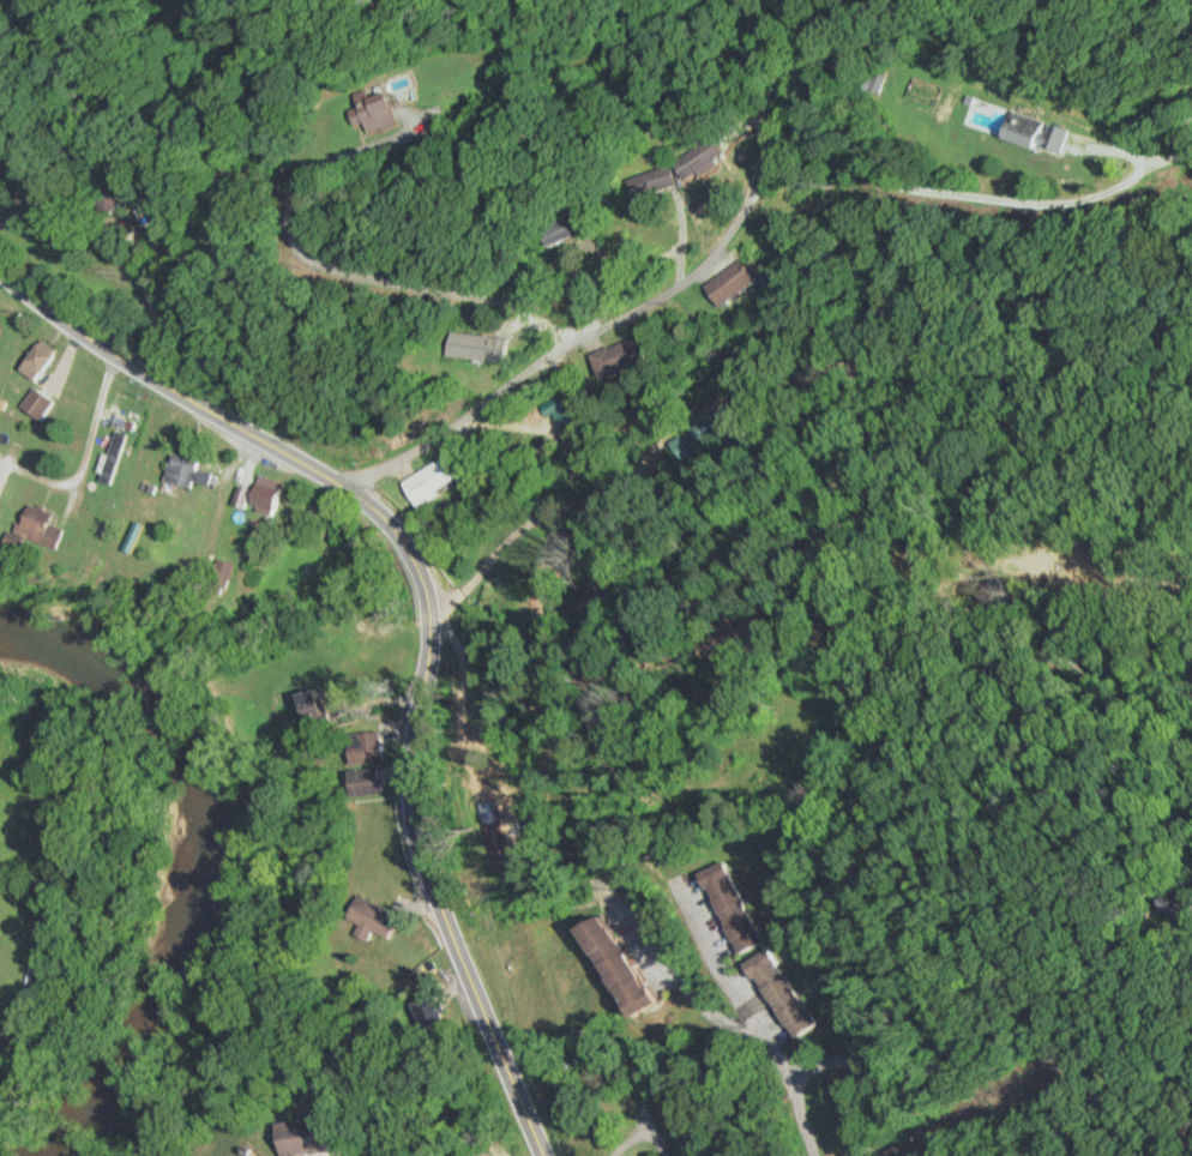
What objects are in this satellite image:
building: (881, 80)
road: (452, 110)
building: (1030, 132)
building: (703, 156)
building: (651, 181)
road: (745, 210)
building: (558, 230)
building: (732, 284)
building: (490, 347)
building: (47, 359)
building: (618, 359)
building: (115, 456)
building: (192, 470)
building: (443, 475)
building: (266, 500)
road: (628, 500)
building: (1, 508)
building: (46, 526)
building: (95, 529)
road: (432, 615)
building: (323, 708)
building: (371, 747)
building: (368, 781)
river: (206, 859)
building: (729, 908)
building: (369, 919)
building: (607, 967)
building: (779, 993)
road: (849, 1064)
building: (302, 1136)

